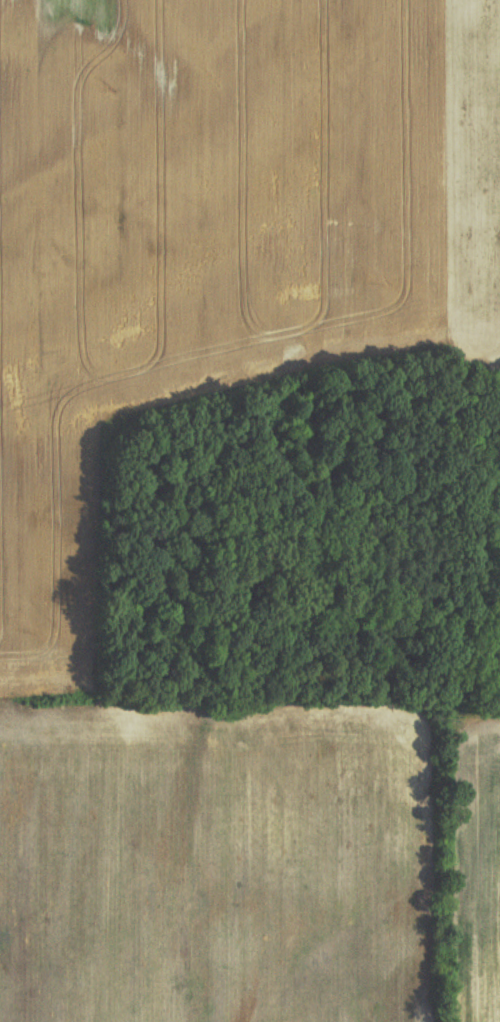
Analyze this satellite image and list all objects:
crop: (485, 866)

